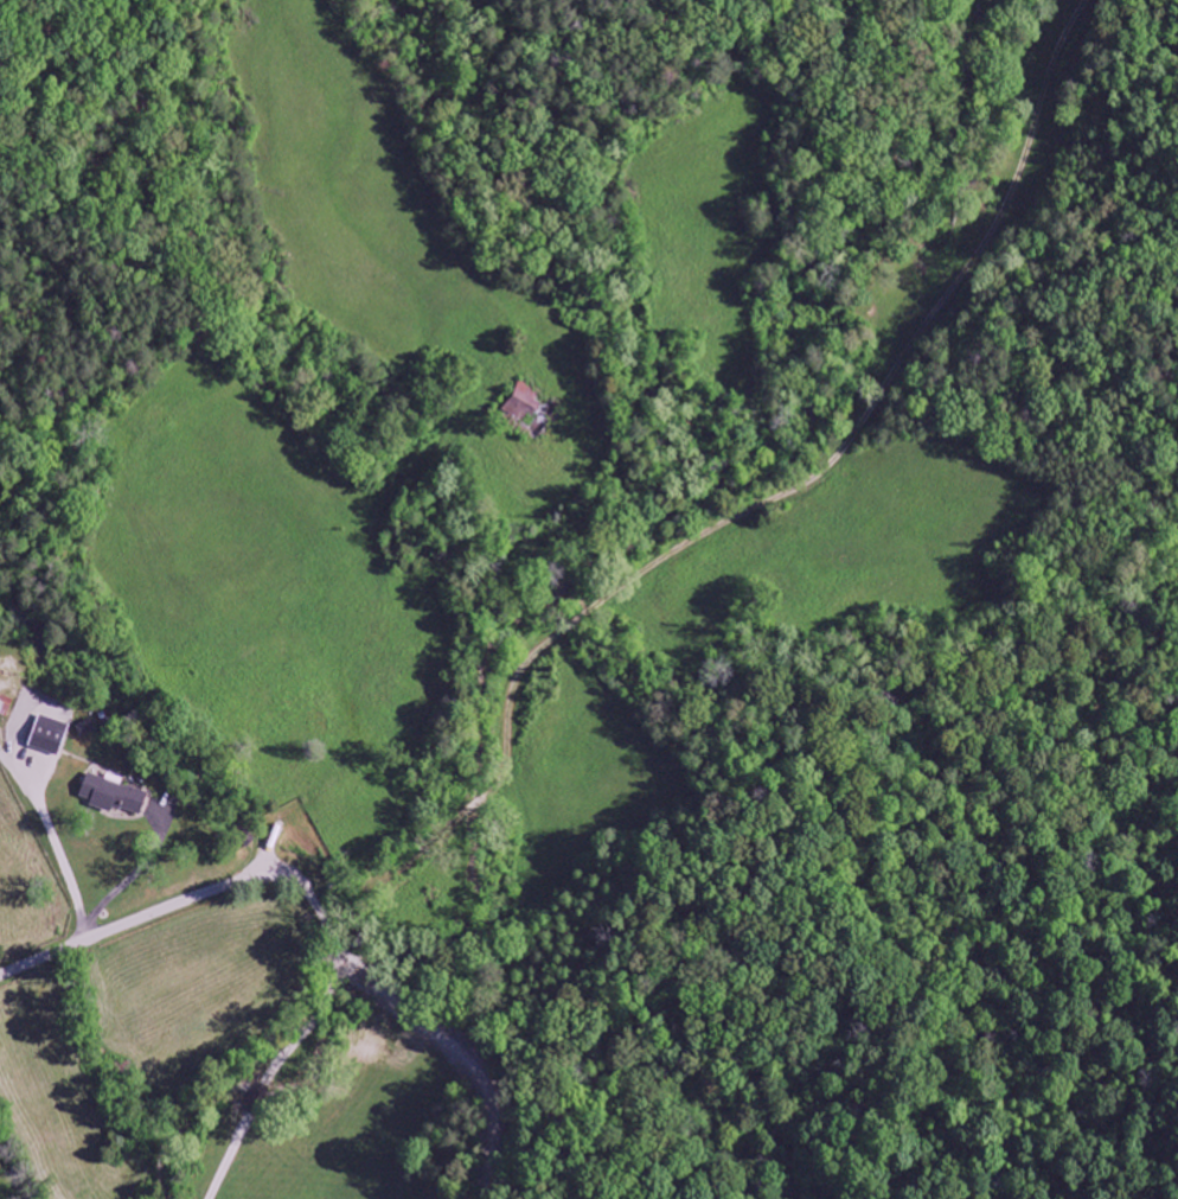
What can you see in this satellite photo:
road: (742, 514)
building: (5, 706)
building: (85, 728)
building: (50, 736)
building: (115, 796)
road: (55, 842)
road: (142, 919)

